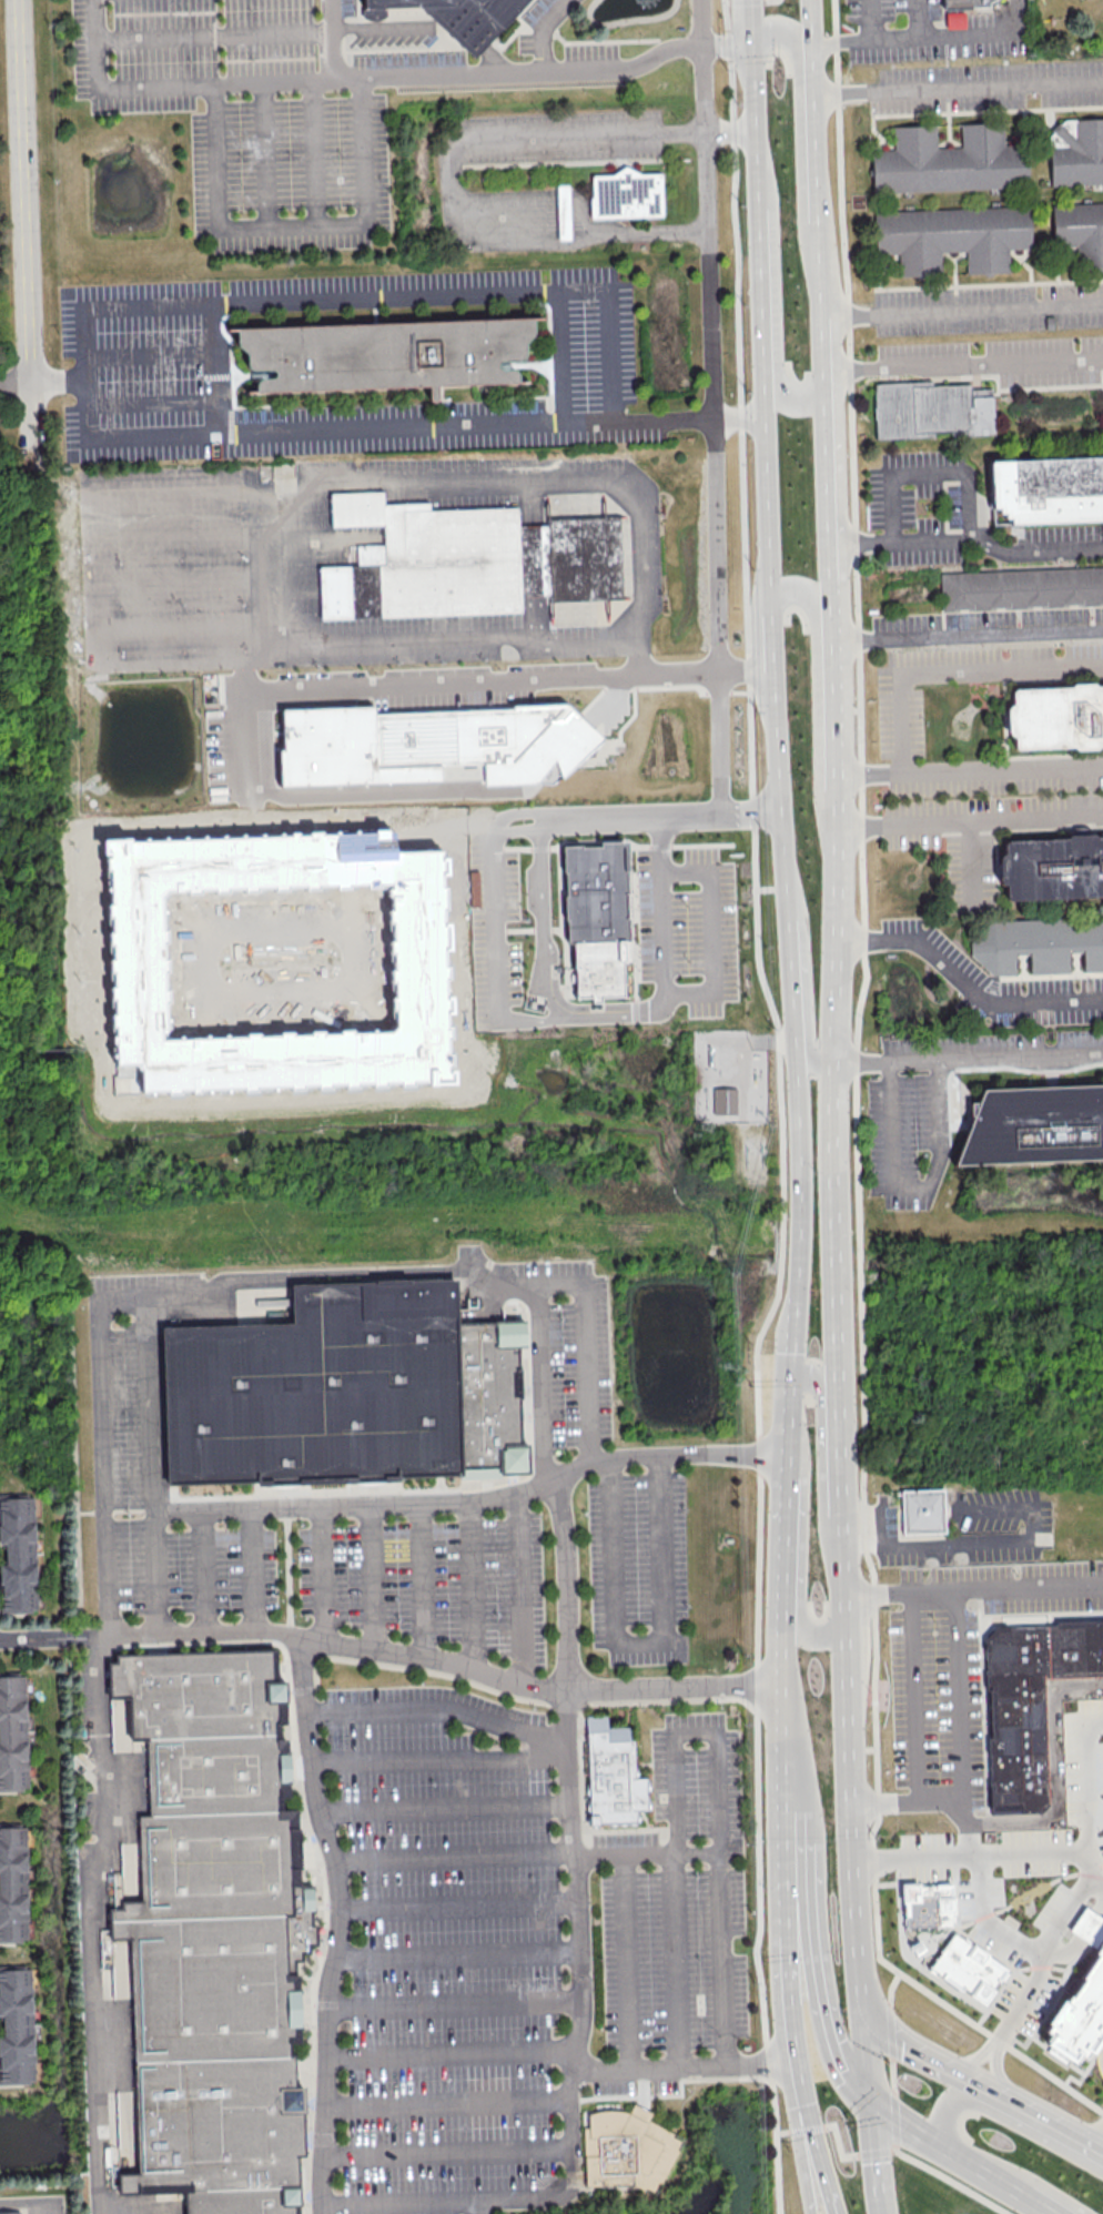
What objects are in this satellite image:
road: (751, 0)
building: (964, 3)
road: (1019, 16)
building: (462, 17)
road: (919, 18)
building: (954, 18)
road: (868, 20)
parking lot: (540, 23)
road: (383, 24)
road: (463, 28)
parking lot: (929, 30)
road: (540, 31)
road: (213, 34)
road: (943, 36)
road: (331, 39)
road: (840, 40)
road: (725, 44)
traffic signals: (751, 47)
road: (834, 47)
road: (494, 59)
road: (517, 71)
road: (170, 85)
road: (958, 88)
parking lot: (266, 104)
road: (728, 131)
road: (574, 135)
road: (800, 138)
building: (1076, 151)
road: (313, 152)
road: (264, 154)
road: (817, 159)
building: (949, 160)
building: (625, 193)
building: (563, 211)
road: (472, 214)
road: (563, 216)
road: (292, 223)
road: (23, 230)
road: (636, 231)
building: (1080, 231)
building: (951, 235)
road: (772, 302)
road: (963, 312)
building: (385, 353)
road: (149, 354)
road: (85, 356)
road: (558, 356)
road: (964, 366)
road: (213, 367)
road: (58, 381)
road: (14, 383)
road: (151, 403)
road: (712, 406)
building: (930, 408)
road: (738, 417)
road: (927, 473)
building: (1048, 489)
road: (190, 491)
road: (302, 499)
parking lot: (925, 502)
road: (178, 535)
road: (968, 538)
building: (464, 560)
road: (180, 579)
building: (1021, 588)
road: (182, 628)
road: (968, 637)
road: (250, 663)
road: (771, 664)
road: (743, 671)
road: (915, 673)
road: (816, 675)
road: (298, 689)
building: (1056, 717)
building: (434, 746)
road: (1003, 768)
road: (627, 817)
road: (969, 820)
road: (517, 830)
road: (837, 853)
road: (968, 863)
building: (1052, 869)
road: (660, 904)
building: (596, 917)
parking lot: (688, 927)
road: (495, 929)
road: (711, 931)
building: (1040, 944)
road: (545, 963)
building: (418, 969)
road: (805, 987)
road: (964, 987)
road: (660, 1001)
road: (578, 1019)
road: (969, 1060)
road: (102, 1074)
building: (725, 1100)
parking lot: (939, 1101)
road: (780, 1108)
building: (1034, 1128)
road: (857, 1163)
road: (911, 1191)
road: (343, 1273)
road: (586, 1351)
road: (814, 1381)
road: (540, 1386)
road: (788, 1391)
building: (350, 1392)
traffic signals: (788, 1394)
road: (152, 1407)
road: (103, 1445)
road: (843, 1476)
road: (355, 1506)
road: (1008, 1507)
building: (923, 1512)
parking lot: (408, 1517)
road: (783, 1527)
road: (937, 1544)
building: (18, 1554)
road: (253, 1570)
road: (203, 1571)
road: (154, 1573)
road: (323, 1574)
road: (372, 1577)
road: (422, 1579)
road: (470, 1585)
road: (1028, 1586)
road: (519, 1588)
road: (931, 1590)
road: (876, 1591)
road: (808, 1632)
road: (48, 1636)
road: (641, 1642)
road: (365, 1647)
parking lot: (960, 1666)
road: (959, 1695)
road: (912, 1696)
road: (782, 1698)
building: (1030, 1702)
road: (437, 1708)
building: (12, 1732)
road: (694, 1733)
road: (439, 1759)
road: (1054, 1768)
building: (616, 1772)
road: (849, 1776)
road: (883, 1801)
road: (940, 1801)
road: (444, 1808)
road: (965, 1812)
road: (104, 1824)
road: (1067, 1851)
road: (527, 1853)
road: (873, 1858)
road: (792, 1874)
road: (1095, 1879)
road: (579, 1881)
building: (12, 1884)
road: (809, 1897)
road: (1069, 1904)
road: (461, 1907)
building: (931, 1907)
road: (1002, 1907)
road: (1101, 1911)
road: (1090, 1925)
building: (1090, 1927)
building: (219, 1931)
road: (1010, 1937)
parking lot: (519, 1947)
road: (1063, 1954)
road: (459, 1957)
road: (912, 1960)
road: (627, 1962)
building: (971, 1968)
road: (890, 1986)
traffic signals: (863, 1988)
road: (456, 2004)
building: (1080, 2010)
building: (16, 2025)
road: (793, 2029)
road: (890, 2031)
road: (898, 2038)
road: (869, 2045)
road: (453, 2054)
road: (839, 2055)
road: (985, 2061)
road: (892, 2075)
road: (449, 2104)
traffic signals: (874, 2104)
road: (1026, 2111)
road: (999, 2114)
road: (894, 2121)
road: (802, 2131)
road: (932, 2142)
road: (840, 2144)
road: (1102, 2150)
road: (1102, 2151)
building: (627, 2152)
road: (821, 2152)
road: (878, 2152)
road: (449, 2154)
road: (878, 2159)
road: (803, 2160)
road: (952, 2181)
road: (1024, 2194)
road: (509, 2203)
road: (837, 2207)
road: (477, 2208)
building: (10, 2213)

